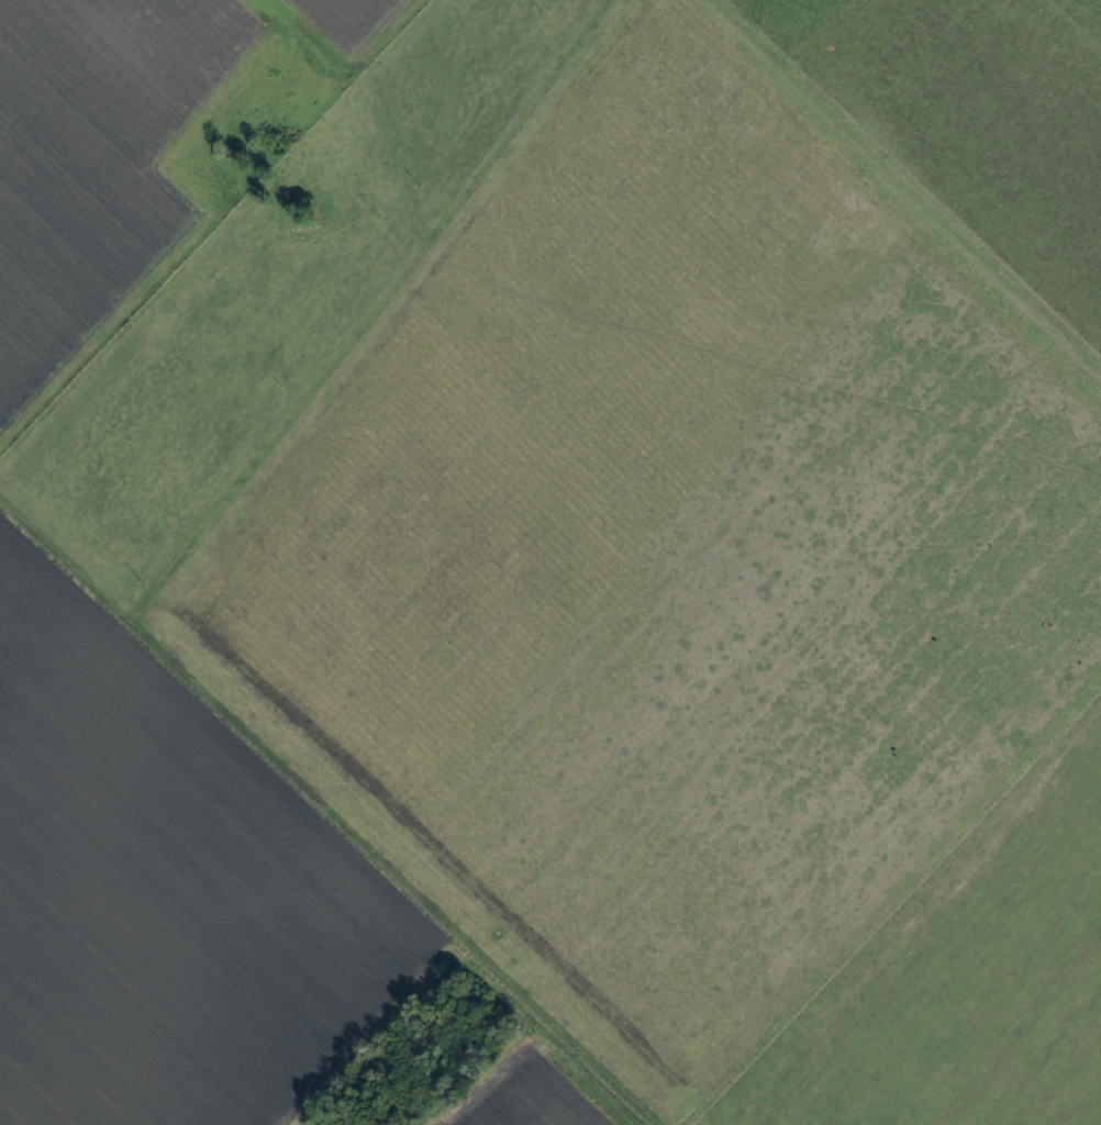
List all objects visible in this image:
road: (347, 67)
road: (908, 187)

